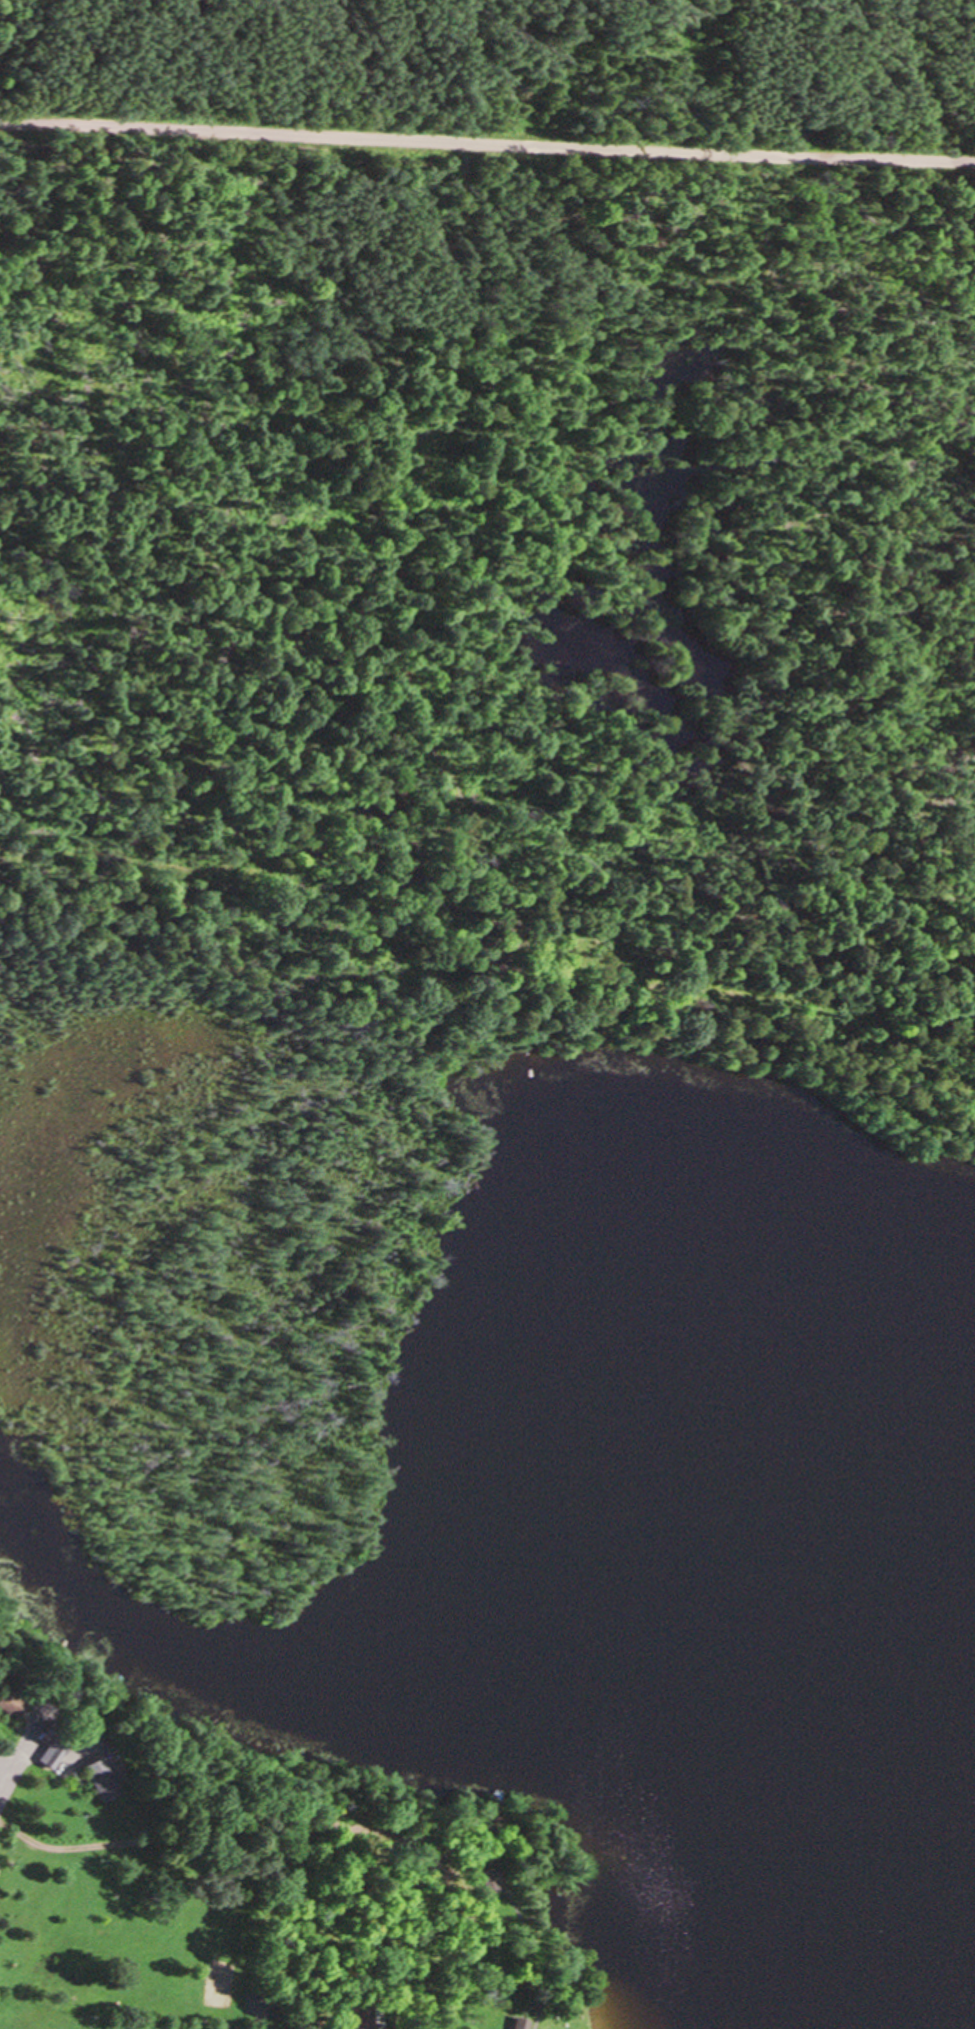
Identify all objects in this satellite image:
road: (875, 10)
road: (487, 142)
park: (195, 1316)
building: (10, 1702)
building: (52, 1737)
road: (8, 1776)
building: (100, 1777)
park: (245, 1878)
building: (486, 1878)
building: (515, 2023)

